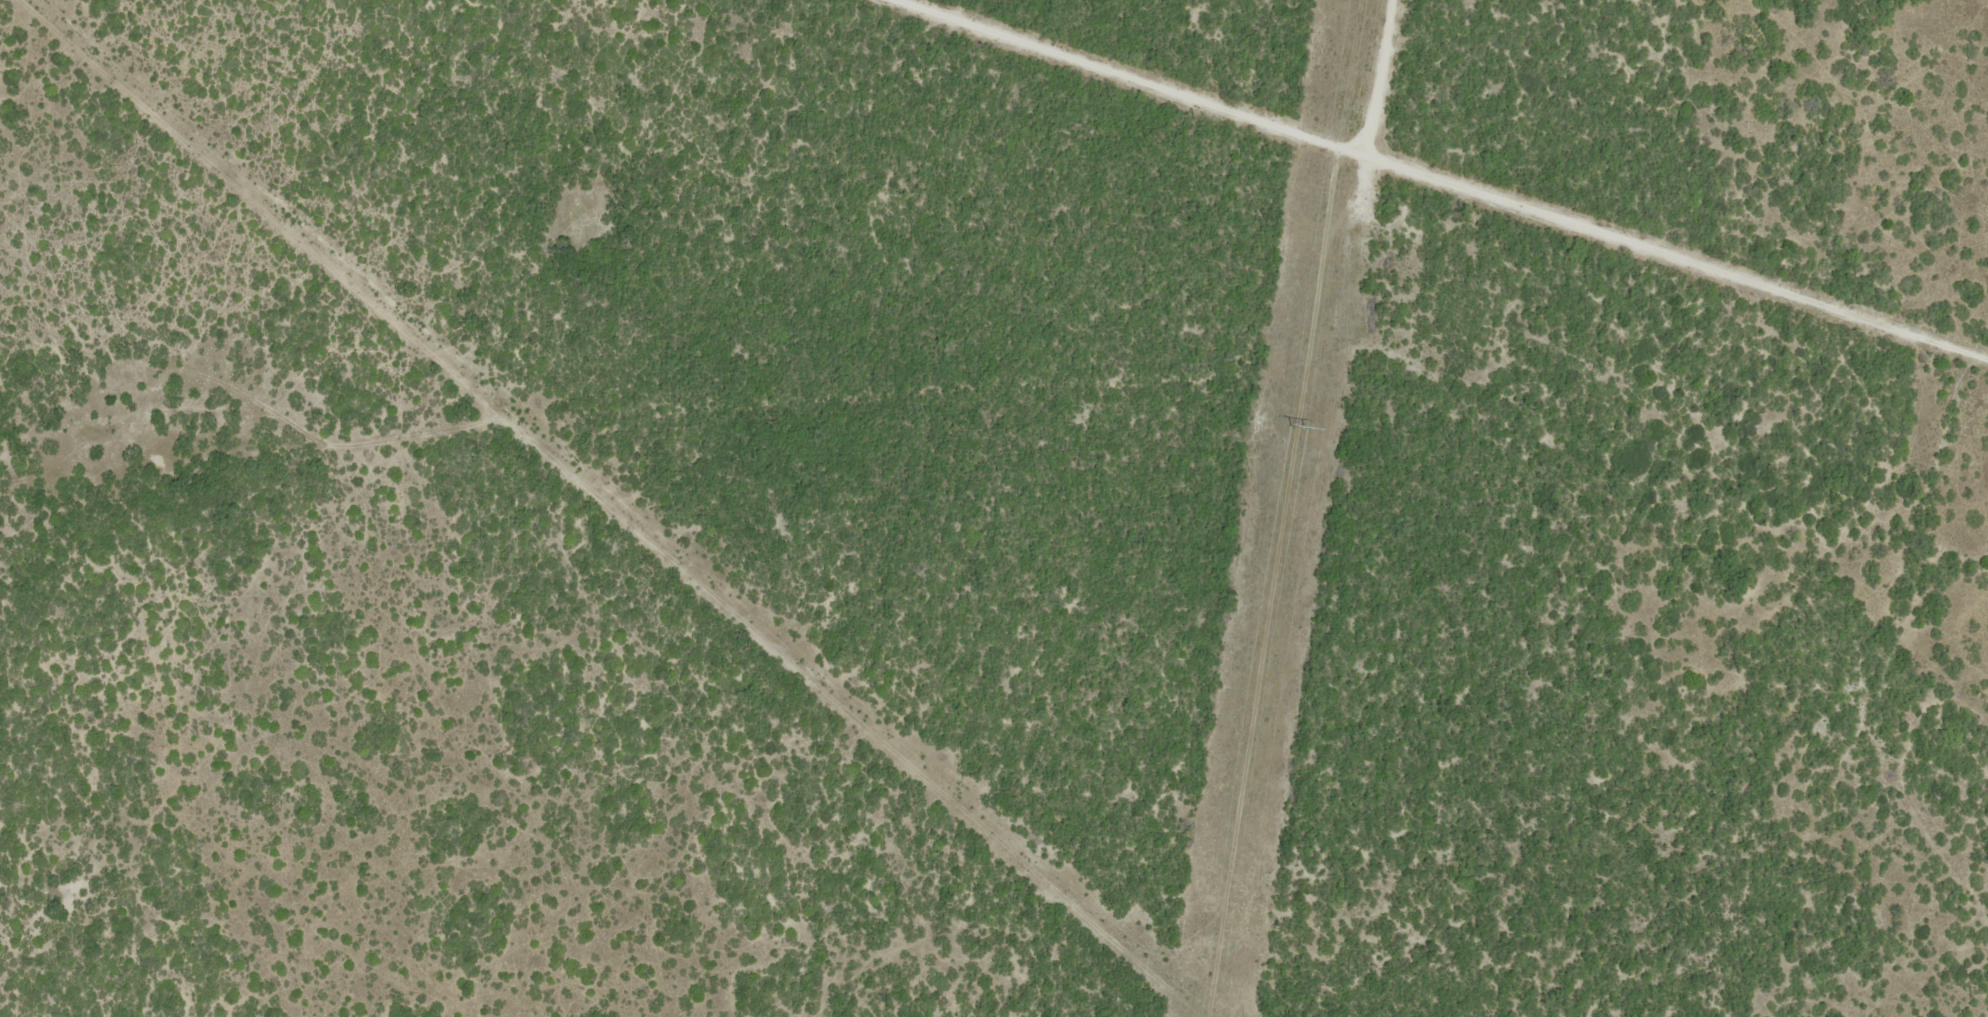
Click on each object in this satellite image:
road: (1466, 173)
power tower: (1294, 427)

